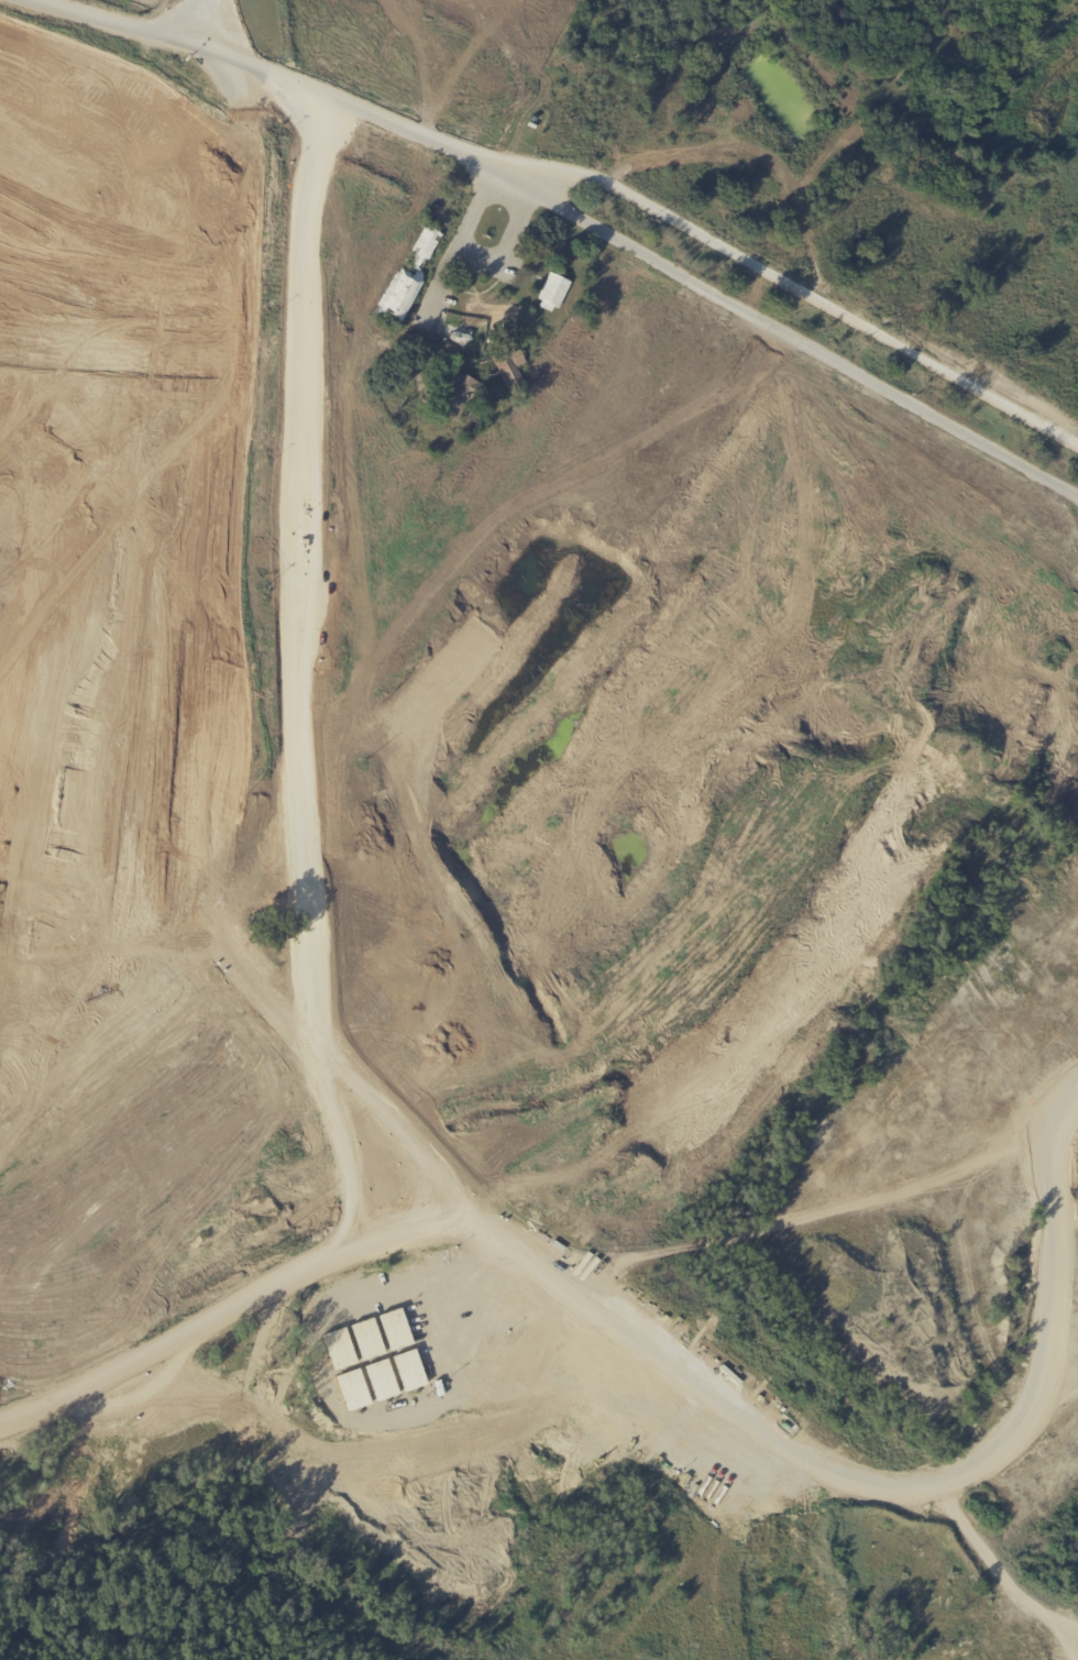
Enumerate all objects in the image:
road: (245, 37)
road: (155, 110)
building: (543, 131)
road: (162, 142)
road: (62, 151)
road: (23, 155)
road: (76, 177)
road: (182, 200)
building: (448, 211)
building: (427, 250)
road: (479, 250)
road: (787, 275)
road: (696, 289)
building: (554, 293)
building: (400, 300)
building: (492, 317)
building: (513, 371)
building: (460, 396)
road: (122, 442)
road: (22, 711)
road: (67, 711)
road: (100, 712)
road: (119, 712)
road: (180, 752)
road: (207, 756)
road: (139, 778)
road: (235, 784)
road: (114, 982)
road: (768, 1427)
road: (1003, 1576)

